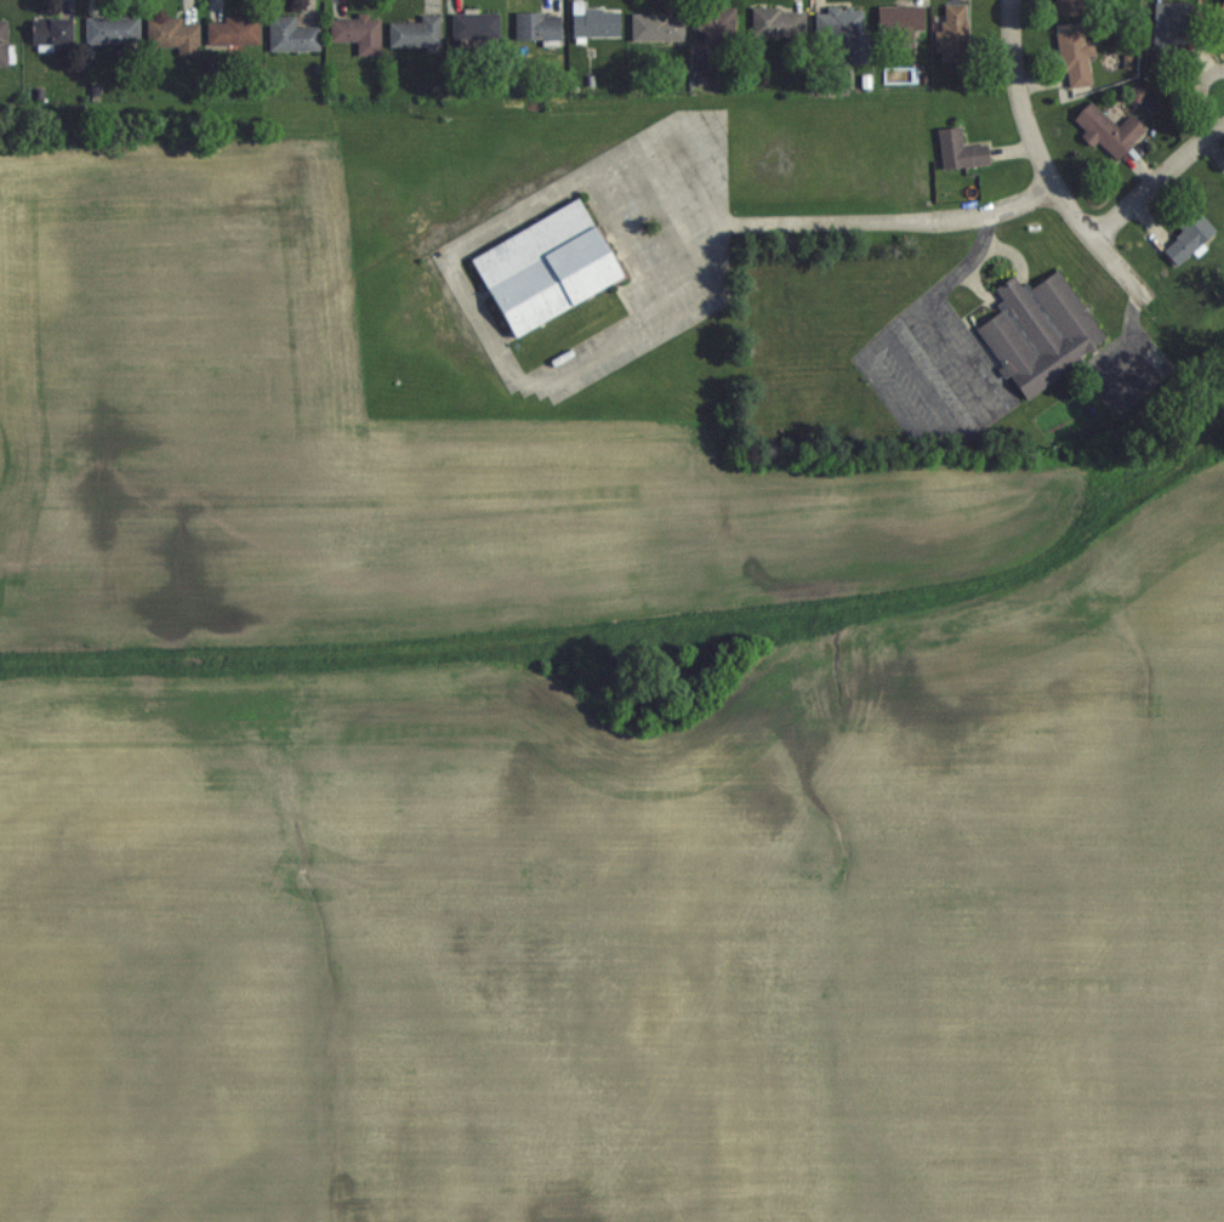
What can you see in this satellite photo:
building: (1070, 7)
building: (1223, 7)
building: (596, 21)
building: (779, 21)
building: (903, 21)
building: (477, 23)
building: (1172, 23)
building: (716, 24)
building: (540, 25)
building: (659, 25)
building: (113, 29)
building: (235, 29)
building: (847, 29)
building: (53, 30)
building: (417, 30)
building: (359, 32)
building: (955, 32)
building: (175, 34)
building: (292, 34)
building: (4, 41)
building: (1076, 56)
road: (1206, 101)
building: (1110, 129)
building: (962, 149)
road: (682, 153)
road: (1046, 164)
road: (1155, 182)
road: (1049, 228)
building: (1191, 234)
road: (681, 248)
road: (621, 249)
building: (550, 266)
road: (923, 307)
building: (1041, 331)
road: (614, 348)

